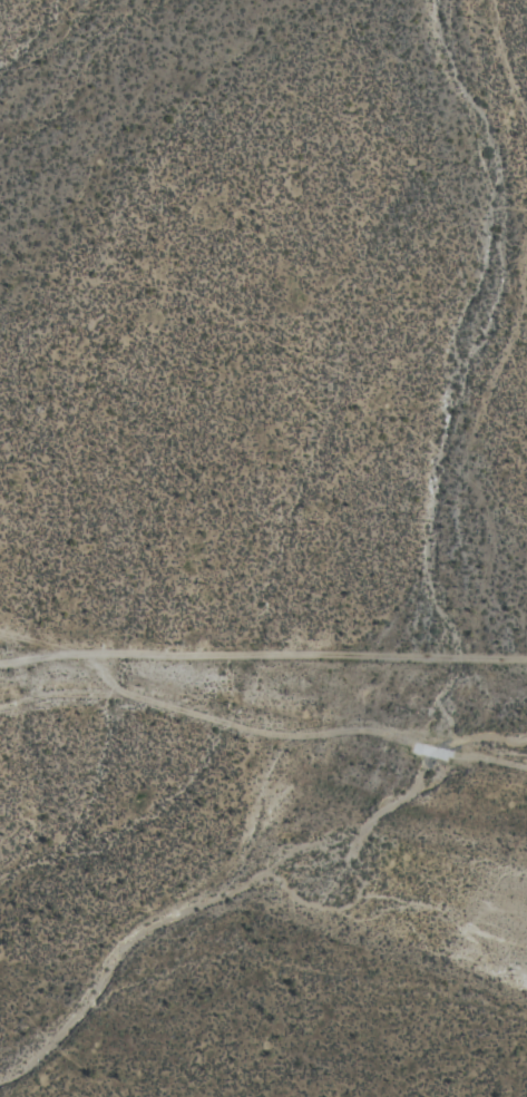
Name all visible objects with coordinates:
road: (470, 327)
road: (263, 658)
road: (253, 732)
road: (236, 891)

